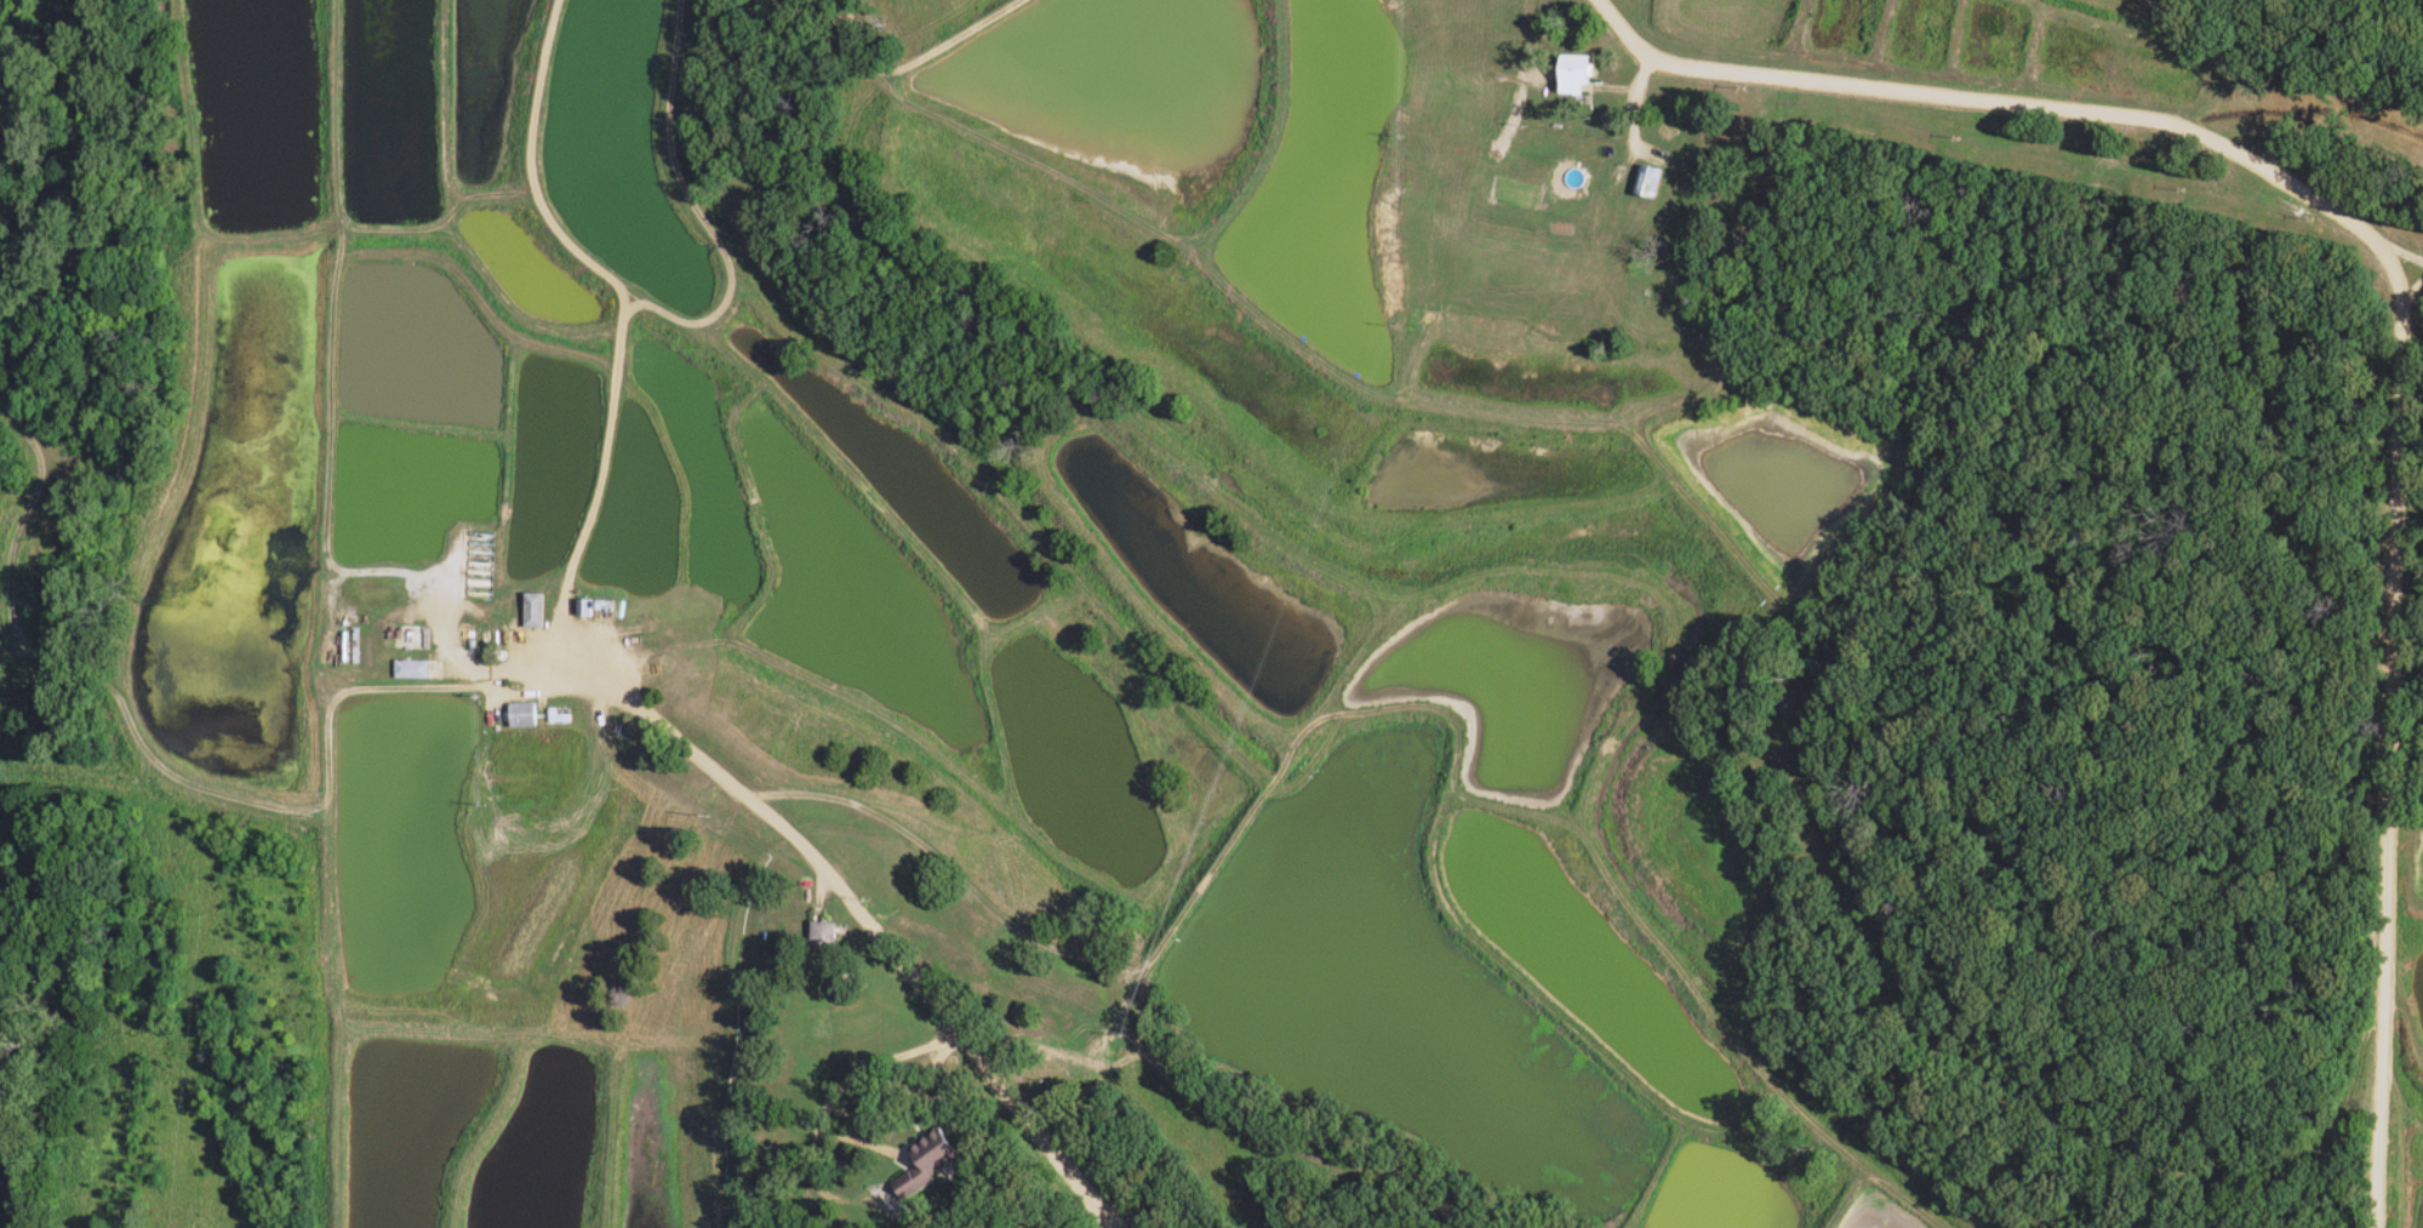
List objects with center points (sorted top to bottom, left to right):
building: (1571, 75)
building: (1640, 182)
road: (2410, 287)
road: (622, 298)
road: (2396, 322)
building: (531, 612)
building: (407, 670)
building: (519, 715)
road: (965, 887)
road: (851, 904)
building: (823, 936)
road: (697, 1005)
road: (838, 1086)
road: (904, 1096)
building: (928, 1164)

